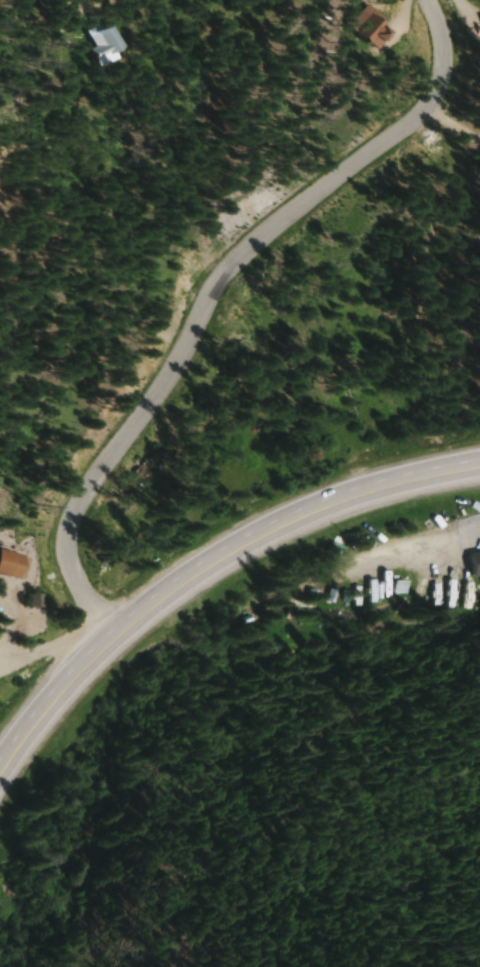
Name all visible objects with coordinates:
building: (104, 43)
road: (196, 299)
building: (151, 465)
road: (411, 550)
building: (475, 561)
road: (205, 577)
building: (399, 587)
building: (472, 594)

